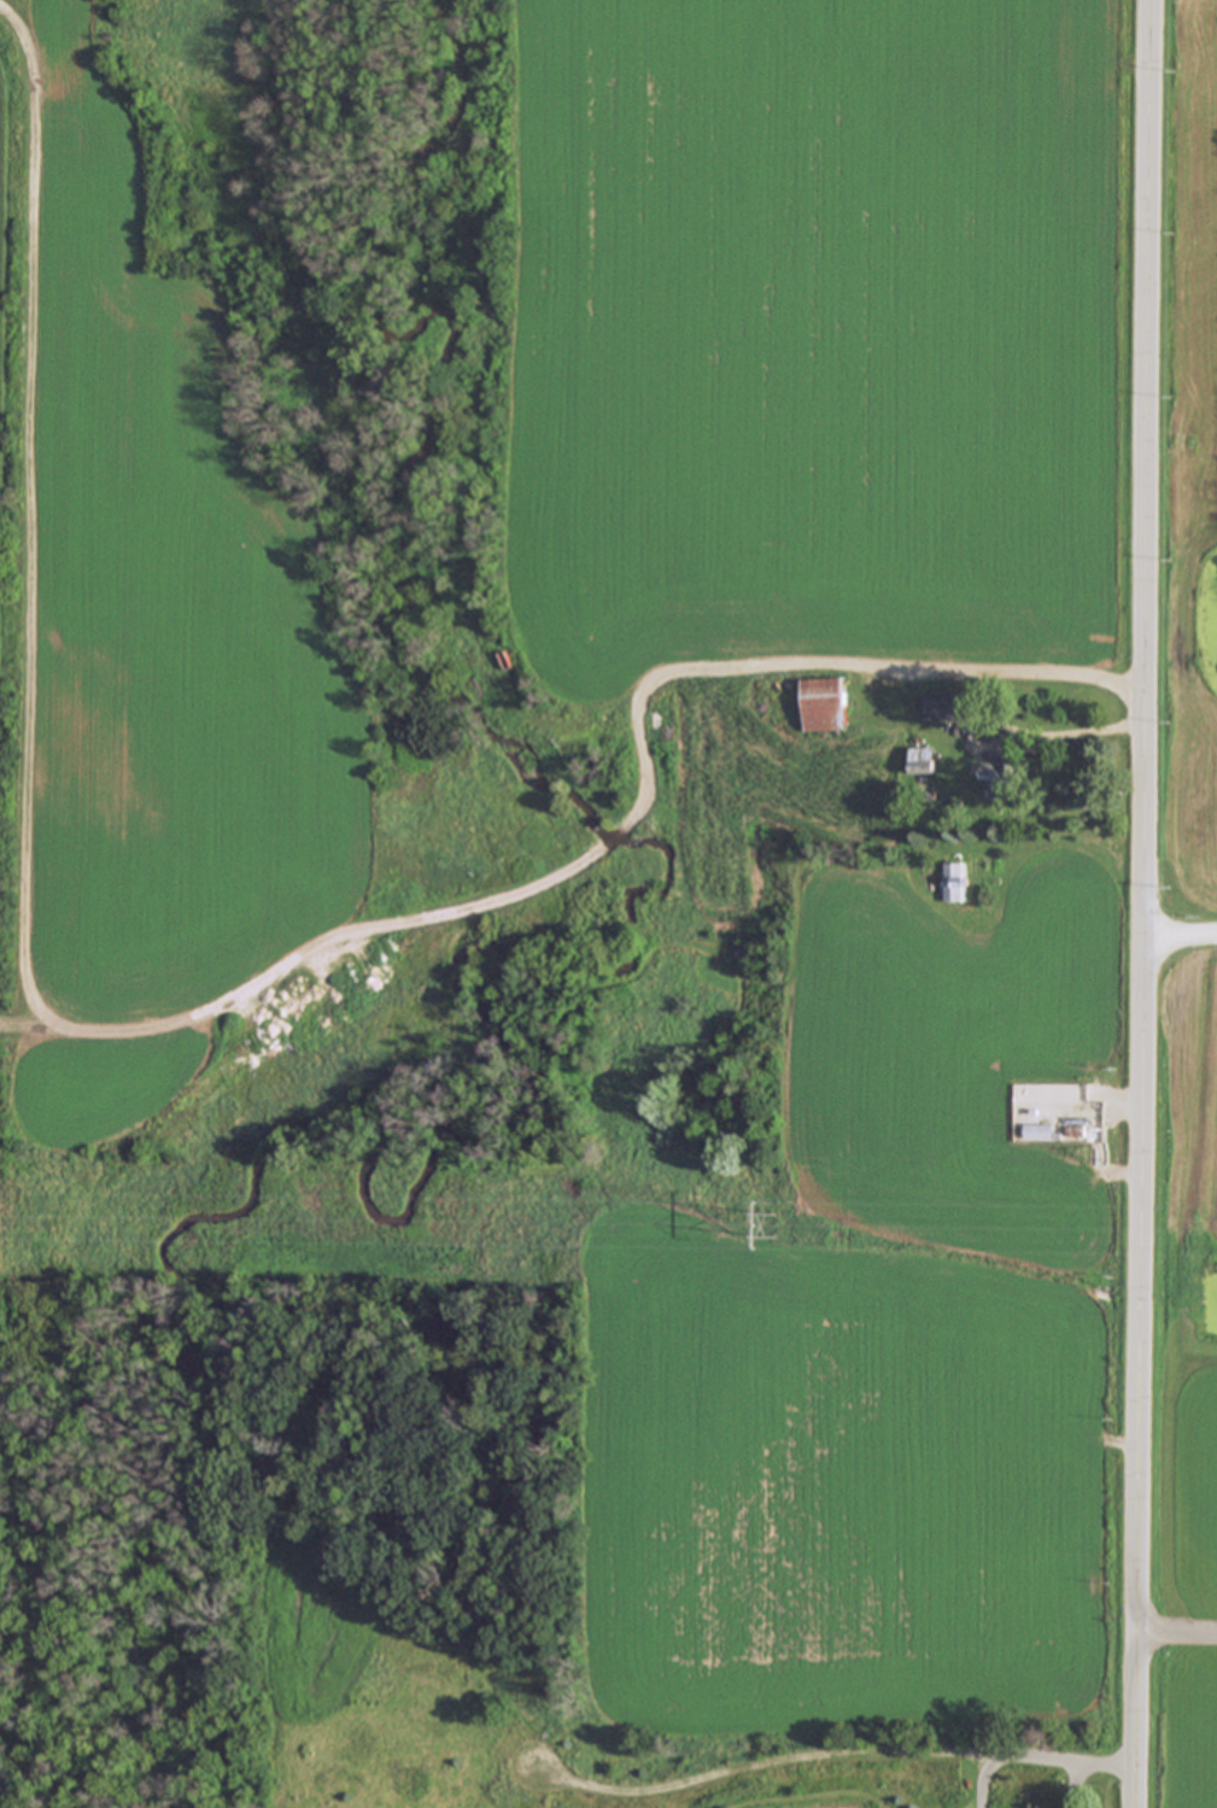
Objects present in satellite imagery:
road: (971, 667)
building: (825, 704)
building: (950, 706)
road: (1064, 737)
building: (921, 760)
building: (1004, 773)
building: (954, 882)
road: (1143, 903)
road: (1180, 942)
road: (1086, 1112)
power tower: (8, 1217)
power tower: (777, 1224)
road: (1177, 1636)
road: (830, 1753)
road: (982, 1780)
road: (1075, 1785)

